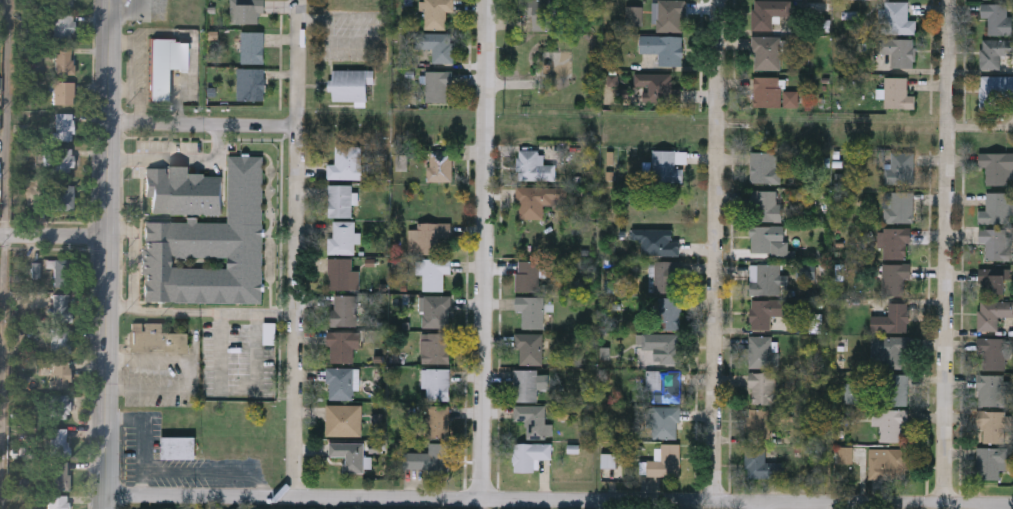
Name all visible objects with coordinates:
building: (995, 0)
building: (66, 2)
building: (247, 11)
building: (538, 12)
building: (768, 12)
building: (437, 13)
building: (669, 15)
building: (896, 17)
building: (997, 17)
building: (59, 23)
building: (438, 45)
building: (253, 47)
building: (663, 47)
building: (899, 50)
building: (765, 51)
building: (994, 52)
building: (64, 58)
road: (132, 58)
building: (166, 68)
building: (251, 84)
building: (351, 84)
building: (438, 85)
building: (658, 86)
building: (995, 87)
building: (766, 91)
building: (63, 92)
building: (896, 92)
road: (134, 97)
road: (175, 103)
road: (7, 119)
road: (203, 125)
building: (64, 126)
road: (179, 158)
building: (62, 159)
building: (347, 163)
building: (440, 165)
building: (667, 165)
building: (764, 166)
building: (997, 166)
building: (534, 167)
building: (899, 167)
building: (59, 197)
building: (340, 200)
building: (538, 200)
building: (766, 204)
building: (898, 207)
building: (995, 207)
building: (205, 236)
building: (765, 237)
road: (54, 238)
building: (342, 238)
building: (429, 238)
building: (656, 241)
building: (895, 243)
building: (995, 243)
road: (293, 247)
road: (486, 249)
road: (713, 250)
road: (945, 251)
road: (109, 254)
road: (137, 262)
building: (62, 273)
building: (435, 273)
building: (341, 274)
building: (527, 275)
building: (667, 276)
building: (895, 278)
building: (993, 278)
building: (765, 279)
building: (61, 307)
building: (343, 310)
building: (435, 310)
building: (530, 311)
building: (765, 311)
road: (199, 313)
building: (669, 313)
building: (992, 313)
building: (891, 318)
building: (60, 341)
building: (156, 342)
building: (340, 346)
building: (661, 346)
building: (435, 348)
building: (529, 348)
building: (762, 350)
building: (888, 351)
building: (990, 353)
road: (4, 373)
building: (59, 373)
road: (188, 376)
building: (341, 382)
building: (437, 383)
building: (525, 385)
building: (663, 386)
road: (237, 387)
building: (761, 387)
building: (897, 388)
building: (991, 389)
building: (58, 406)
building: (343, 419)
building: (533, 420)
building: (437, 421)
building: (760, 421)
building: (665, 422)
building: (889, 422)
building: (990, 426)
building: (59, 442)
building: (179, 449)
building: (349, 454)
building: (529, 455)
building: (428, 457)
building: (665, 461)
building: (990, 461)
building: (887, 463)
building: (760, 464)
building: (59, 475)
road: (559, 498)
road: (484, 503)
road: (762, 505)

